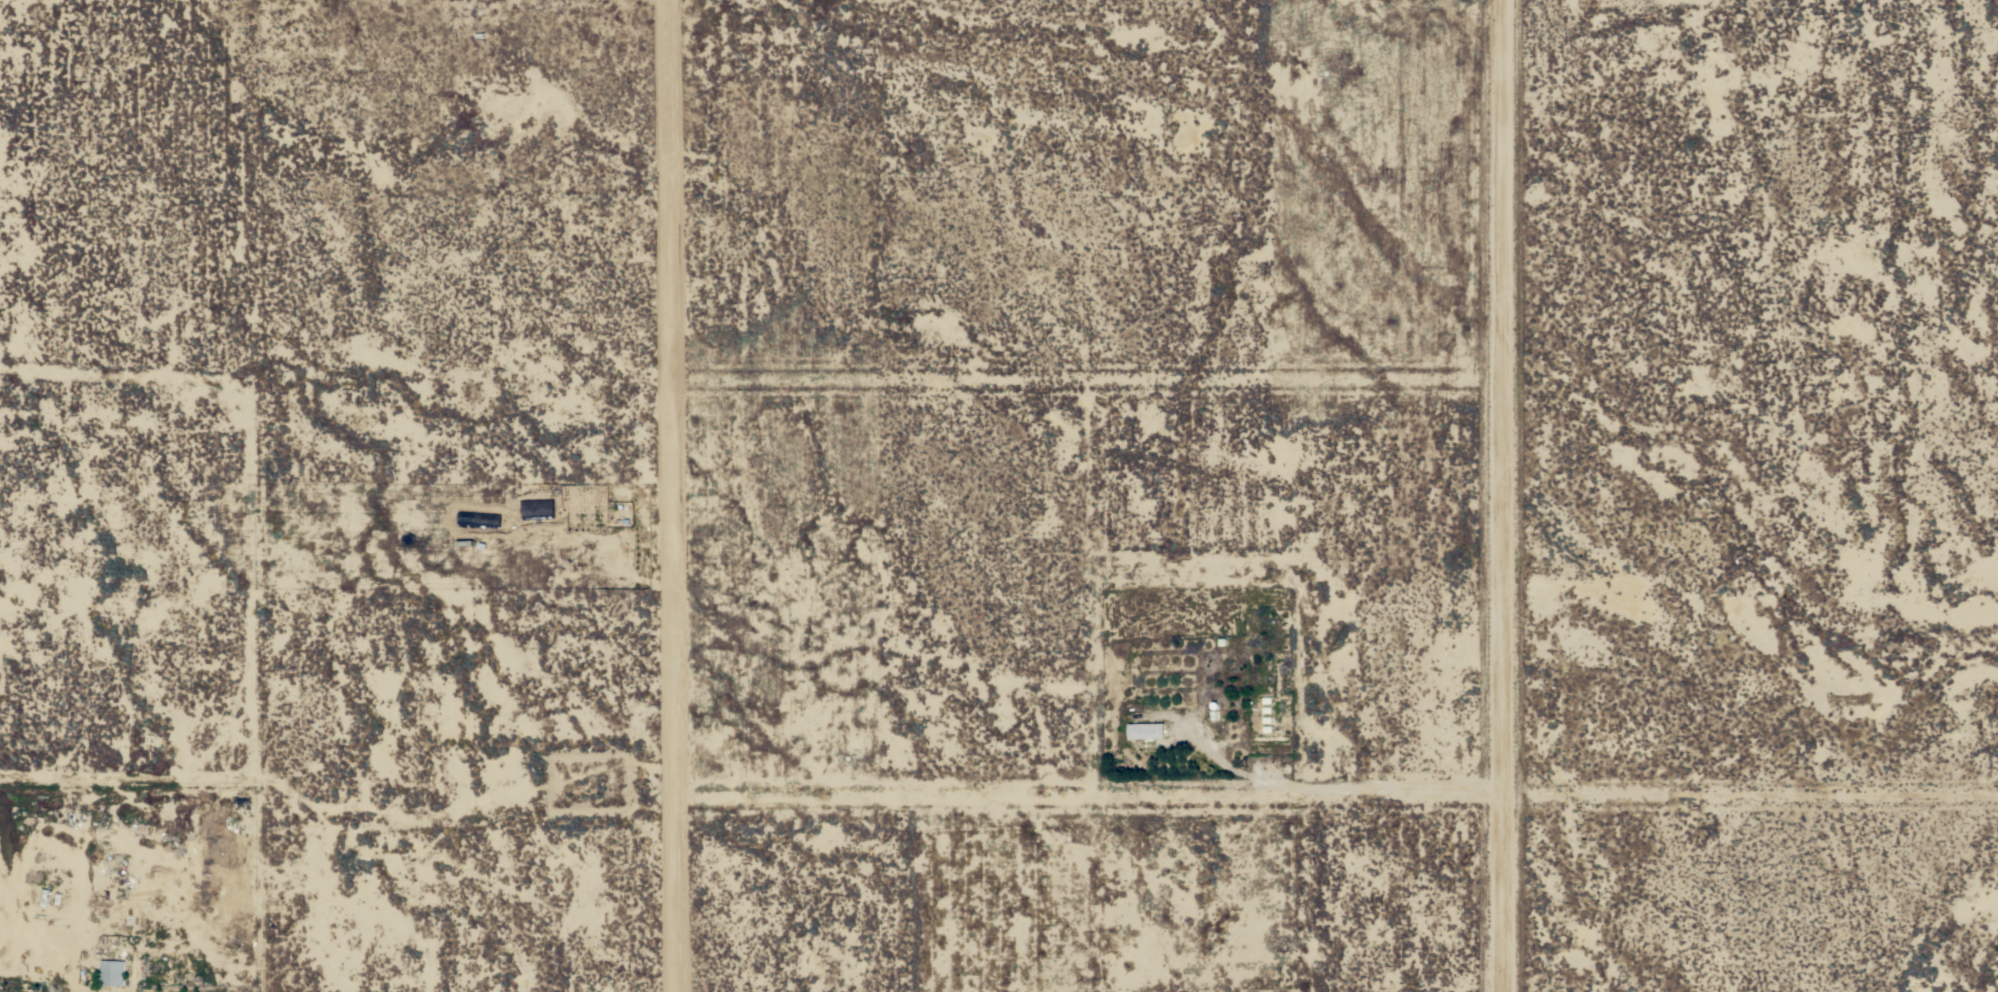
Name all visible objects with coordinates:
road: (1500, 495)
road: (676, 496)
building: (1145, 731)
road: (1090, 791)
building: (112, 973)

